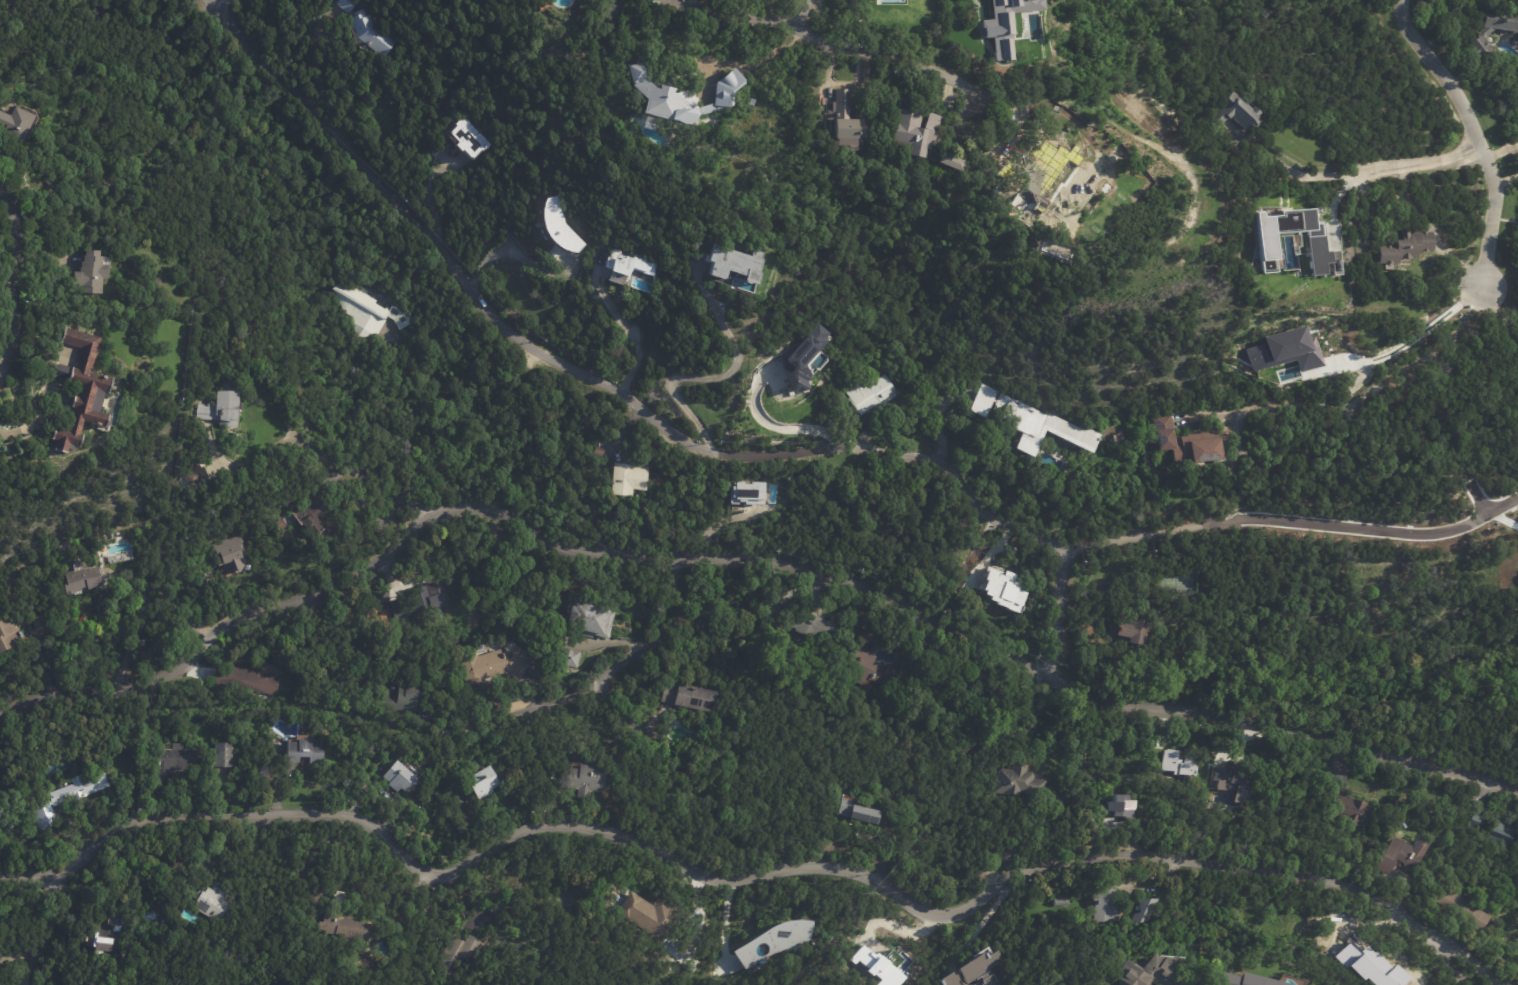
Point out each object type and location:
road: (215, 0)
building: (347, 5)
road: (757, 15)
road: (812, 15)
building: (1004, 24)
building: (373, 34)
building: (1480, 34)
road: (313, 57)
road: (905, 70)
building: (684, 97)
building: (1516, 107)
building: (1237, 112)
building: (845, 121)
building: (17, 124)
building: (919, 130)
road: (1478, 135)
building: (468, 138)
building: (1032, 159)
building: (957, 162)
road: (1360, 174)
building: (1111, 191)
building: (561, 230)
building: (1265, 241)
building: (1402, 247)
road: (510, 251)
building: (736, 263)
building: (628, 266)
building: (1267, 266)
building: (92, 274)
road: (15, 277)
building: (369, 311)
road: (627, 330)
building: (229, 334)
road: (1411, 338)
building: (1285, 351)
building: (802, 359)
road: (590, 377)
road: (709, 377)
building: (81, 392)
building: (566, 395)
building: (874, 395)
building: (1315, 404)
building: (224, 408)
building: (1032, 422)
road: (779, 423)
building: (1121, 437)
building: (1191, 441)
building: (599, 452)
road: (326, 453)
road: (1239, 462)
building: (197, 475)
building: (632, 481)
building: (745, 493)
road: (1498, 500)
building: (314, 513)
road: (1392, 527)
road: (1165, 535)
building: (231, 553)
road: (740, 558)
building: (504, 566)
building: (80, 579)
building: (1003, 580)
building: (203, 581)
building: (422, 605)
building: (394, 609)
road: (1064, 615)
building: (593, 618)
building: (40, 619)
building: (805, 621)
building: (1135, 626)
building: (1432, 627)
building: (9, 634)
road: (131, 644)
building: (572, 658)
building: (266, 662)
building: (493, 667)
building: (879, 671)
building: (247, 680)
road: (603, 682)
building: (979, 688)
building: (692, 696)
building: (404, 698)
building: (932, 699)
road: (660, 732)
building: (306, 750)
building: (226, 755)
building: (175, 761)
building: (1177, 764)
building: (401, 776)
building: (1242, 779)
building: (591, 780)
building: (484, 783)
building: (1022, 783)
building: (68, 797)
building: (1350, 800)
building: (1125, 807)
building: (864, 811)
building: (1475, 823)
building: (8, 826)
building: (1401, 827)
building: (1500, 833)
building: (1401, 855)
road: (753, 875)
road: (404, 898)
building: (1063, 902)
building: (1111, 903)
building: (214, 905)
building: (503, 907)
building: (1456, 910)
building: (1150, 911)
building: (653, 916)
building: (346, 922)
road: (979, 927)
road: (38, 930)
building: (104, 936)
building: (780, 938)
building: (461, 955)
building: (876, 966)
road: (1456, 966)
building: (979, 971)
building: (1150, 973)
building: (1386, 975)
building: (1237, 980)

